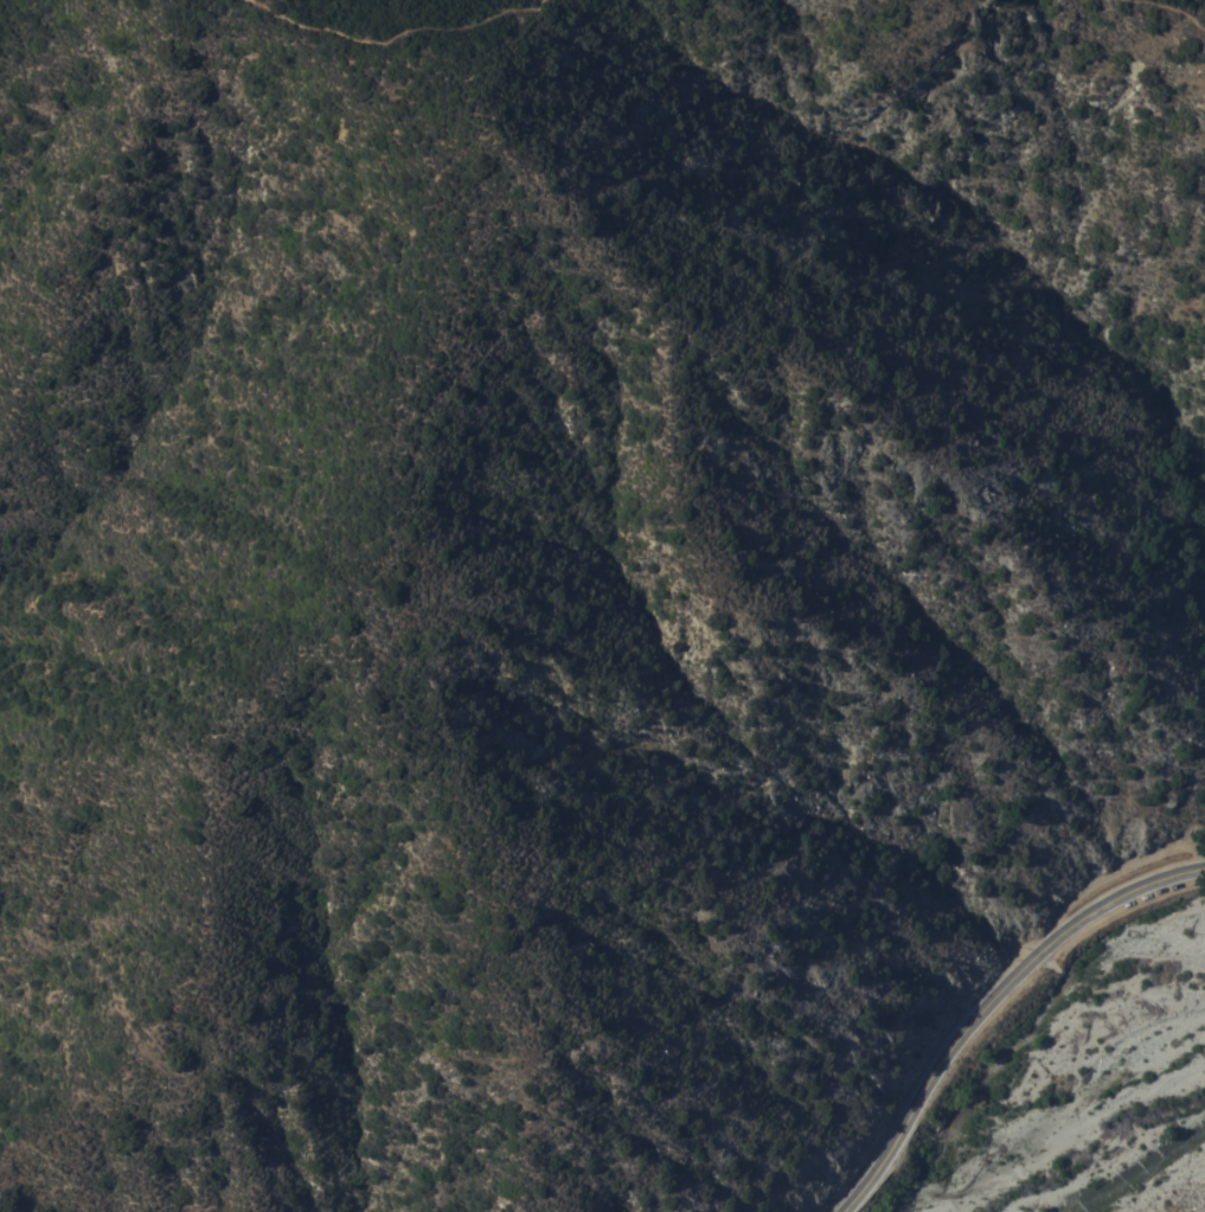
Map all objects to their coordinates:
road: (1177, 8)
road: (400, 33)
road: (1013, 1014)
river: (1083, 1137)

